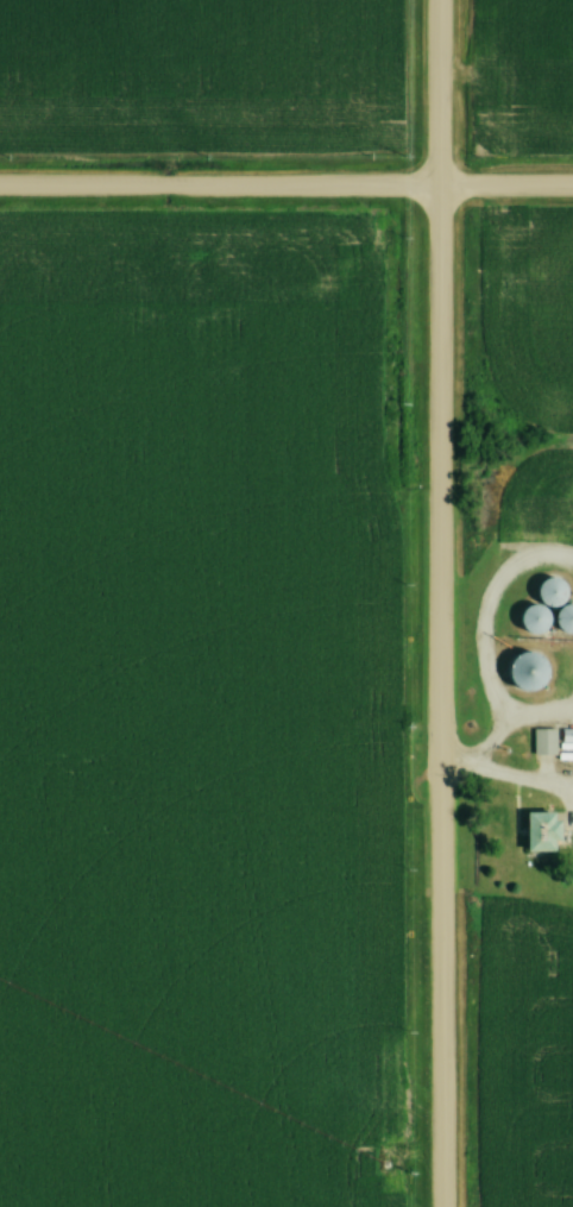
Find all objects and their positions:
road: (286, 191)
building: (549, 592)
road: (436, 603)
building: (565, 620)
building: (531, 621)
building: (524, 673)
building: (566, 737)
building: (541, 743)
road: (483, 753)
road: (461, 766)
building: (543, 831)

